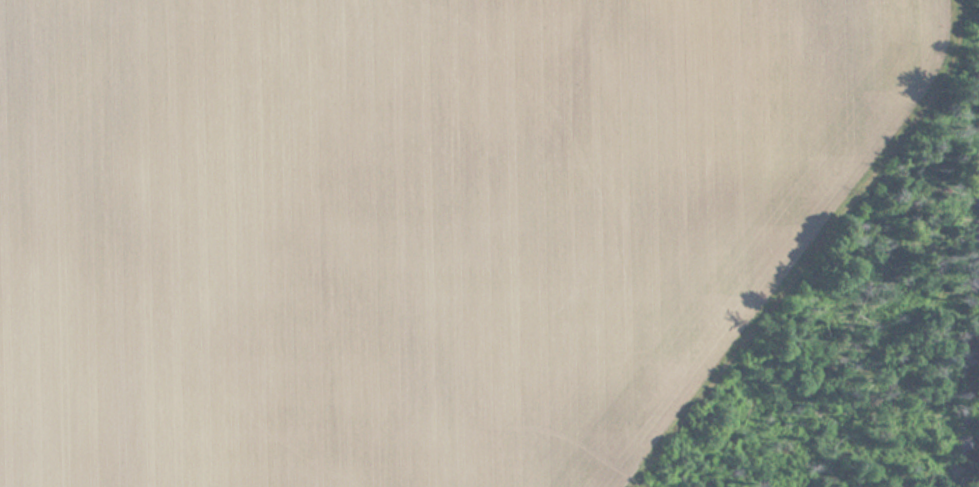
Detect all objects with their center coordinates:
river: (964, 365)

